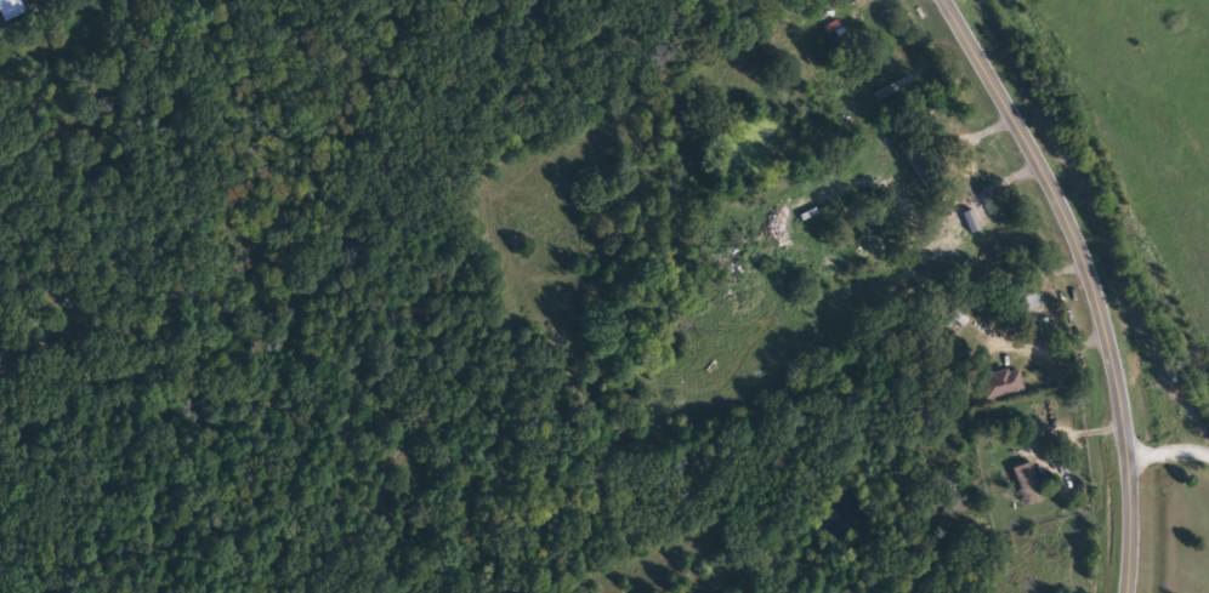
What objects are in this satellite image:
building: (966, 205)
road: (1091, 281)
building: (1023, 296)
building: (1000, 382)
road: (1169, 444)
building: (1027, 481)
building: (949, 491)

